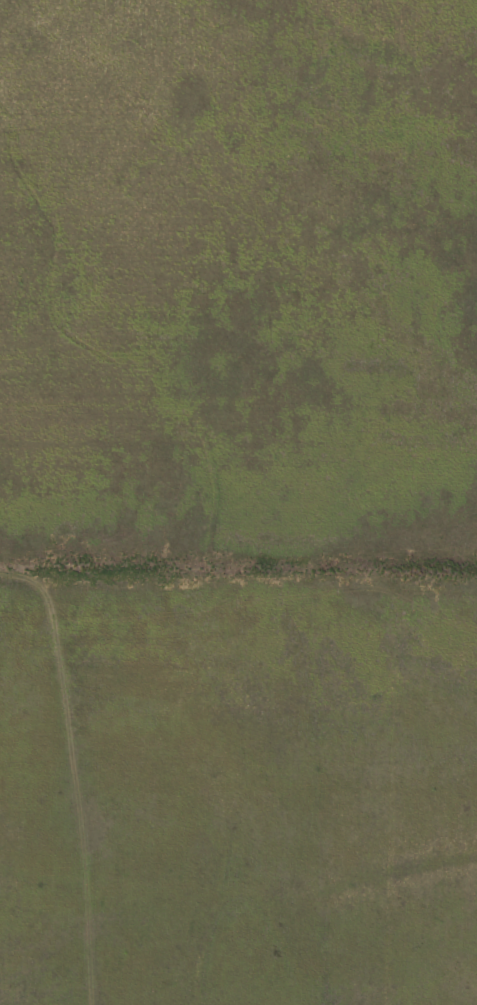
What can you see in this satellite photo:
road: (78, 767)

